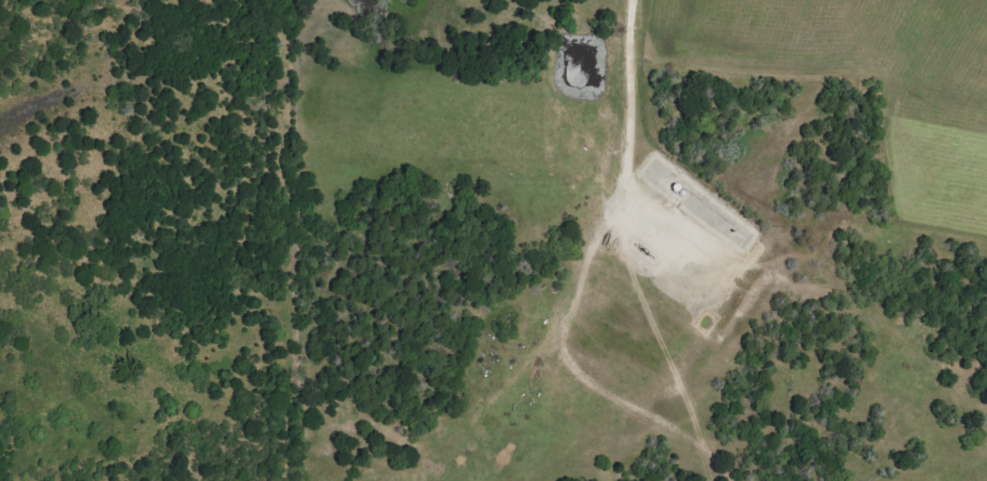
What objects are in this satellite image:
road: (629, 121)
petroleum well: (640, 248)

